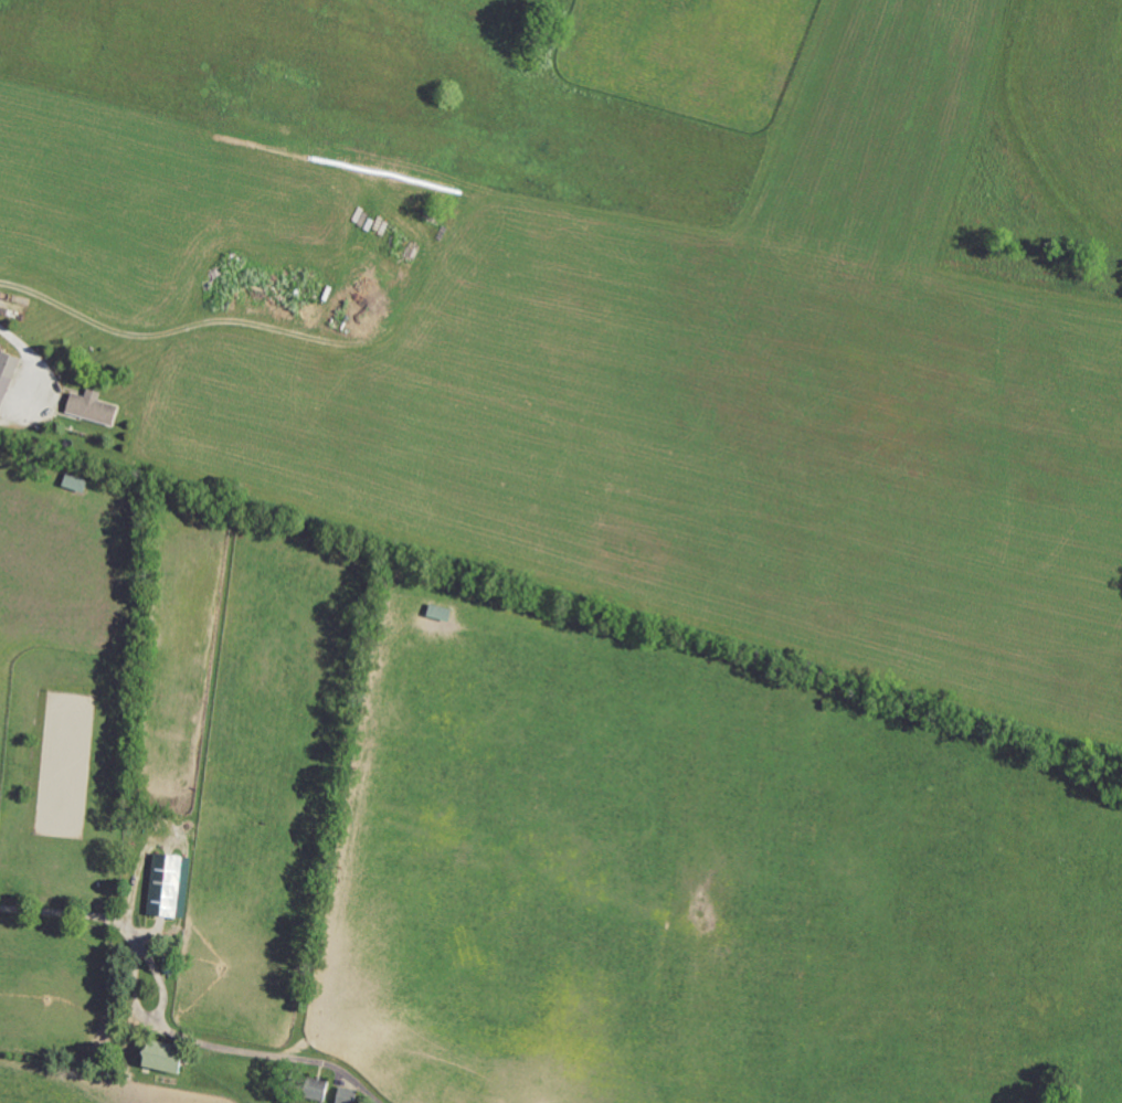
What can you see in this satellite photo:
road: (267, 324)
building: (8, 379)
building: (94, 407)
building: (171, 885)
road: (166, 1025)
building: (170, 1056)
building: (320, 1089)
building: (348, 1095)

